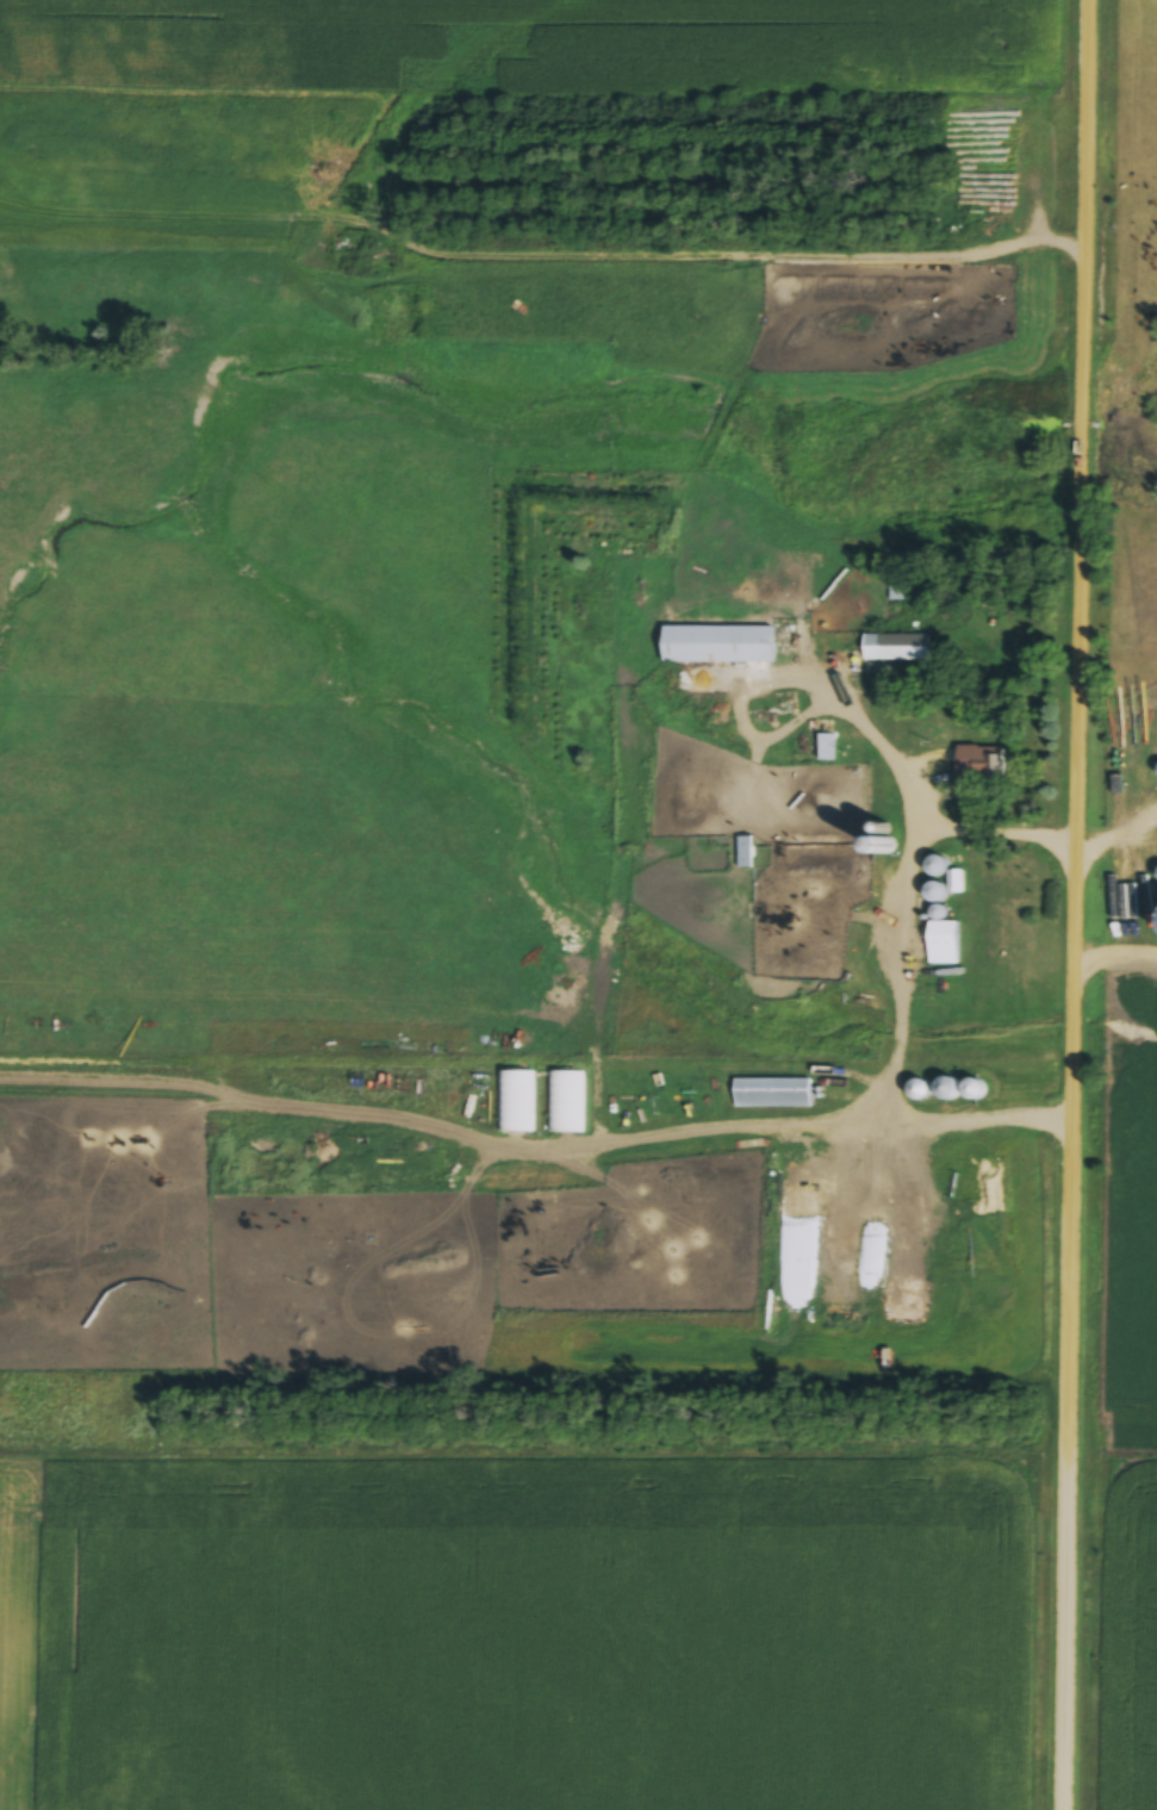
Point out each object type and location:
building: (716, 648)
building: (896, 651)
road: (804, 686)
building: (974, 765)
road: (1119, 842)
building: (745, 854)
road: (1077, 904)
building: (943, 945)
road: (1115, 966)
road: (907, 991)
building: (970, 1091)
building: (772, 1095)
building: (516, 1105)
building: (566, 1105)
road: (701, 1138)
building: (876, 1186)

